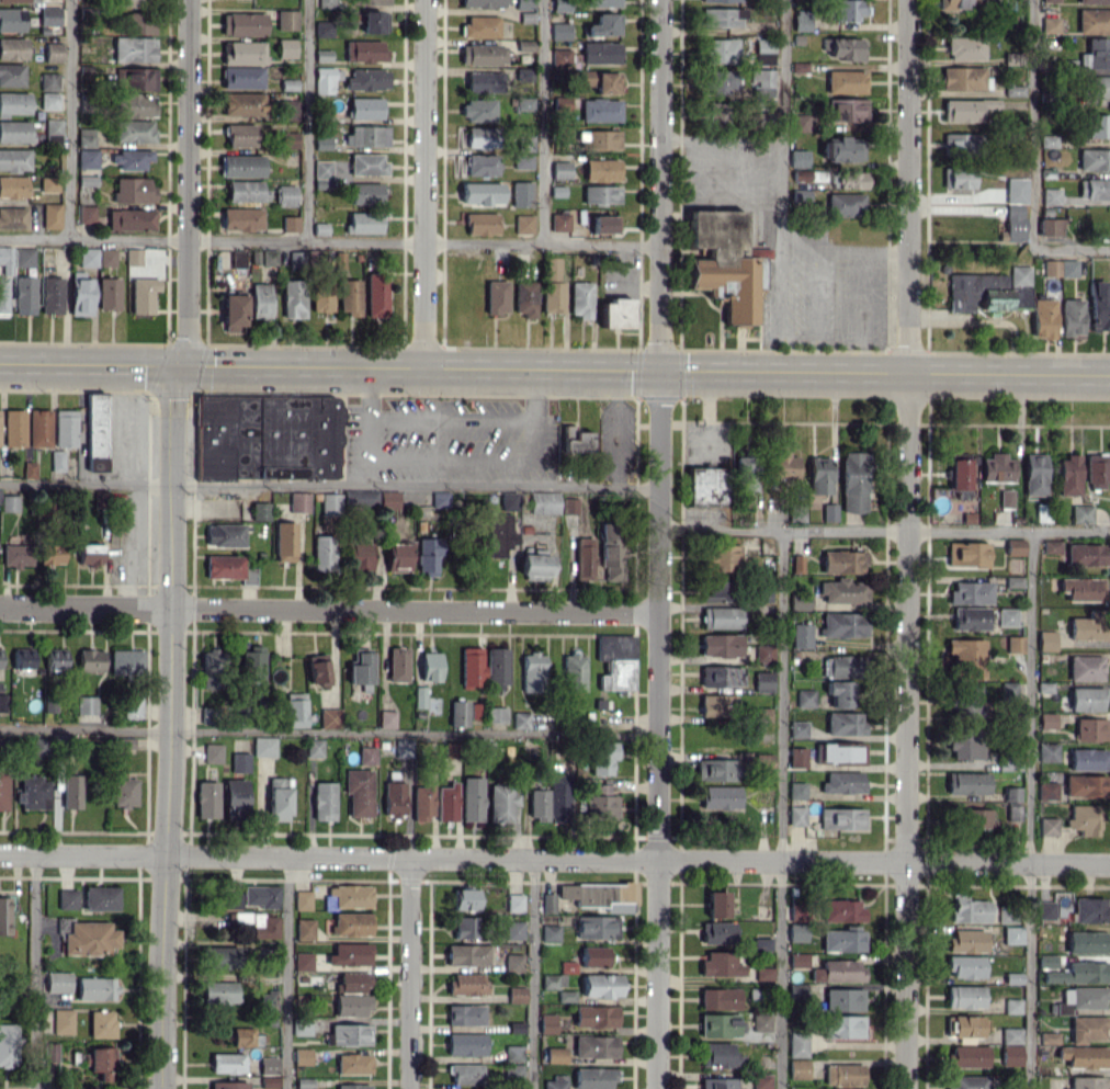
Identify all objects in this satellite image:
building: (16, 0)
building: (718, 0)
building: (1050, 0)
building: (371, 1)
building: (1092, 1)
building: (133, 2)
building: (326, 3)
building: (480, 3)
building: (601, 3)
building: (954, 3)
building: (523, 4)
building: (559, 5)
building: (849, 10)
building: (48, 15)
building: (722, 16)
building: (11, 19)
building: (285, 19)
building: (801, 20)
building: (1092, 21)
building: (135, 22)
building: (374, 22)
building: (242, 24)
building: (604, 24)
building: (1049, 24)
building: (480, 26)
building: (322, 29)
building: (559, 31)
building: (285, 47)
building: (842, 47)
building: (965, 47)
building: (12, 48)
building: (722, 49)
building: (759, 50)
building: (53, 52)
building: (364, 52)
building: (242, 53)
building: (600, 53)
building: (1095, 53)
building: (483, 54)
building: (560, 58)
building: (11, 75)
building: (241, 77)
building: (961, 78)
building: (136, 79)
building: (366, 79)
building: (47, 81)
building: (482, 81)
building: (600, 81)
building: (718, 81)
building: (761, 81)
building: (845, 81)
building: (1098, 86)
building: (48, 101)
building: (13, 103)
building: (242, 103)
building: (523, 103)
building: (560, 103)
building: (134, 104)
building: (364, 107)
building: (478, 110)
building: (600, 110)
building: (848, 110)
building: (720, 113)
road: (69, 120)
road: (306, 121)
road: (542, 122)
building: (798, 122)
road: (1031, 125)
building: (1097, 125)
building: (52, 126)
building: (14, 131)
building: (134, 131)
building: (239, 135)
building: (365, 135)
building: (86, 137)
building: (479, 137)
building: (288, 139)
building: (600, 139)
road: (722, 139)
building: (1046, 140)
building: (960, 141)
building: (525, 143)
building: (845, 149)
building: (87, 158)
building: (797, 158)
building: (14, 159)
building: (131, 159)
building: (1094, 160)
building: (522, 161)
building: (366, 163)
building: (480, 165)
building: (241, 166)
building: (559, 169)
building: (601, 169)
road: (188, 170)
building: (321, 174)
building: (956, 179)
building: (86, 180)
building: (848, 180)
building: (47, 183)
road: (424, 183)
building: (12, 185)
road: (782, 186)
building: (1094, 188)
building: (133, 190)
building: (1015, 190)
building: (246, 191)
building: (365, 193)
building: (480, 193)
building: (521, 193)
building: (285, 194)
building: (601, 194)
building: (800, 194)
building: (1050, 195)
building: (845, 204)
building: (84, 214)
building: (50, 215)
building: (12, 217)
building: (241, 218)
building: (129, 219)
building: (559, 222)
building: (290, 223)
building: (364, 223)
building: (479, 223)
building: (523, 223)
building: (1013, 223)
building: (604, 224)
building: (1049, 226)
road: (329, 242)
road: (1071, 250)
building: (133, 256)
building: (88, 257)
building: (106, 257)
building: (267, 257)
building: (238, 258)
building: (337, 260)
building: (725, 262)
building: (552, 265)
building: (1058, 268)
building: (1018, 274)
building: (23, 292)
building: (983, 292)
building: (109, 293)
building: (80, 294)
building: (141, 294)
building: (376, 294)
building: (52, 295)
building: (320, 295)
building: (348, 296)
building: (496, 296)
building: (552, 297)
building: (292, 298)
building: (524, 298)
building: (580, 298)
building: (259, 299)
building: (1099, 305)
building: (233, 313)
building: (615, 313)
building: (1071, 317)
building: (1042, 318)
road: (183, 352)
traffic signals: (180, 365)
road: (555, 370)
traffic signals: (661, 372)
road: (175, 381)
road: (534, 397)
road: (445, 419)
road: (366, 427)
building: (13, 428)
building: (38, 428)
building: (64, 428)
building: (95, 431)
building: (269, 436)
building: (576, 440)
building: (783, 465)
building: (996, 467)
building: (29, 469)
building: (1096, 470)
building: (959, 473)
building: (745, 474)
building: (1033, 474)
building: (818, 475)
building: (1067, 475)
building: (852, 481)
road: (329, 485)
building: (705, 486)
building: (1005, 498)
building: (360, 499)
building: (389, 499)
building: (440, 499)
building: (0, 500)
building: (298, 501)
building: (9, 502)
building: (544, 502)
building: (330, 503)
building: (570, 506)
building: (259, 510)
building: (828, 511)
building: (795, 513)
building: (1080, 513)
road: (884, 529)
building: (225, 534)
building: (499, 534)
building: (286, 541)
road: (659, 544)
road: (907, 544)
building: (1051, 545)
building: (1013, 546)
building: (612, 549)
building: (50, 553)
building: (322, 553)
building: (90, 554)
building: (427, 554)
building: (966, 554)
building: (1085, 554)
building: (16, 555)
building: (358, 555)
building: (397, 557)
building: (722, 557)
building: (585, 558)
building: (842, 561)
building: (796, 563)
building: (224, 566)
building: (534, 566)
building: (1012, 581)
building: (1080, 588)
building: (715, 591)
building: (842, 591)
building: (970, 592)
building: (798, 600)
road: (329, 609)
building: (721, 616)
building: (1006, 616)
building: (969, 617)
building: (842, 624)
building: (1087, 626)
building: (800, 635)
building: (1045, 640)
building: (1013, 644)
building: (720, 645)
building: (618, 649)
building: (763, 651)
building: (965, 657)
building: (22, 658)
building: (55, 658)
building: (90, 660)
building: (126, 661)
building: (398, 665)
building: (840, 665)
building: (212, 666)
building: (252, 666)
building: (430, 666)
building: (472, 666)
building: (361, 667)
building: (1084, 667)
building: (318, 669)
building: (497, 669)
building: (533, 671)
building: (574, 672)
building: (618, 674)
building: (721, 676)
building: (277, 677)
building: (762, 681)
building: (839, 693)
building: (804, 697)
building: (1085, 699)
building: (966, 700)
building: (716, 703)
building: (86, 704)
building: (133, 706)
building: (295, 712)
building: (458, 713)
building: (496, 714)
building: (761, 714)
building: (329, 717)
building: (386, 718)
building: (521, 719)
building: (1046, 721)
building: (845, 723)
building: (797, 728)
building: (1090, 728)
road: (329, 730)
road: (169, 742)
building: (964, 742)
building: (263, 746)
building: (314, 747)
building: (403, 747)
building: (839, 751)
building: (1047, 751)
building: (213, 752)
building: (366, 756)
building: (602, 757)
building: (796, 757)
building: (1087, 759)
building: (239, 761)
building: (762, 761)
building: (716, 769)
building: (842, 782)
building: (967, 783)
building: (1085, 785)
building: (796, 790)
building: (1046, 790)
building: (3, 791)
building: (71, 791)
building: (359, 791)
building: (32, 792)
building: (124, 792)
building: (1011, 793)
building: (559, 794)
building: (235, 797)
building: (394, 797)
building: (720, 797)
building: (206, 798)
building: (472, 798)
building: (324, 801)
building: (422, 801)
building: (448, 802)
building: (501, 802)
building: (279, 803)
building: (537, 804)
building: (602, 806)
road: (781, 808)
road: (1029, 809)
building: (1012, 812)
building: (796, 815)
building: (840, 818)
building: (975, 818)
building: (1085, 819)
building: (1047, 826)
road: (554, 859)
building: (260, 895)
building: (599, 895)
building: (351, 896)
building: (67, 898)
building: (100, 898)
building: (465, 898)
building: (233, 899)
building: (302, 899)
building: (547, 903)
building: (1056, 903)
building: (716, 904)
building: (967, 909)
building: (841, 910)
building: (1090, 910)
building: (5, 912)
building: (351, 923)
building: (262, 926)
building: (465, 927)
building: (596, 927)
building: (304, 929)
building: (513, 929)
building: (550, 932)
building: (717, 932)
building: (796, 932)
building: (89, 938)
building: (841, 940)
building: (966, 940)
building: (1087, 941)
building: (761, 944)
building: (350, 954)
building: (467, 954)
building: (222, 956)
building: (593, 956)
building: (797, 960)
building: (1046, 960)
building: (303, 961)
building: (513, 961)
building: (720, 964)
building: (567, 966)
building: (965, 966)
building: (837, 971)
road: (35, 972)
building: (1078, 972)
road: (287, 973)
building: (763, 973)
road: (409, 974)
road: (531, 974)
building: (552, 980)
building: (57, 982)
building: (352, 982)
building: (466, 983)
building: (601, 985)
building: (95, 987)
building: (218, 991)
building: (517, 995)
building: (566, 996)
building: (964, 996)
building: (718, 998)
building: (1080, 998)
building: (842, 999)
building: (267, 1002)
building: (352, 1005)
building: (1011, 1006)
building: (465, 1014)
building: (596, 1016)
building: (63, 1021)
building: (760, 1021)
building: (101, 1023)
building: (547, 1023)
building: (718, 1024)
building: (842, 1025)
building: (963, 1025)
building: (302, 1026)
building: (1087, 1028)
building: (350, 1034)
building: (1010, 1035)
building: (243, 1036)
building: (797, 1043)
building: (8, 1044)
building: (465, 1044)
building: (594, 1046)
building: (49, 1051)
building: (513, 1053)
building: (556, 1054)
building: (717, 1054)
building: (1010, 1054)
building: (302, 1055)
building: (966, 1055)
building: (1084, 1056)
building: (101, 1062)
building: (226, 1063)
building: (353, 1063)
building: (268, 1065)
building: (797, 1068)
building: (513, 1071)
building: (465, 1074)
building: (842, 1074)
building: (593, 1077)
building: (269, 1081)
building: (555, 1081)
building: (761, 1081)
building: (965, 1081)
building: (304, 1082)
building: (717, 1082)
building: (1086, 1082)
building: (228, 1085)
building: (353, 1086)
building: (851, 1088)

